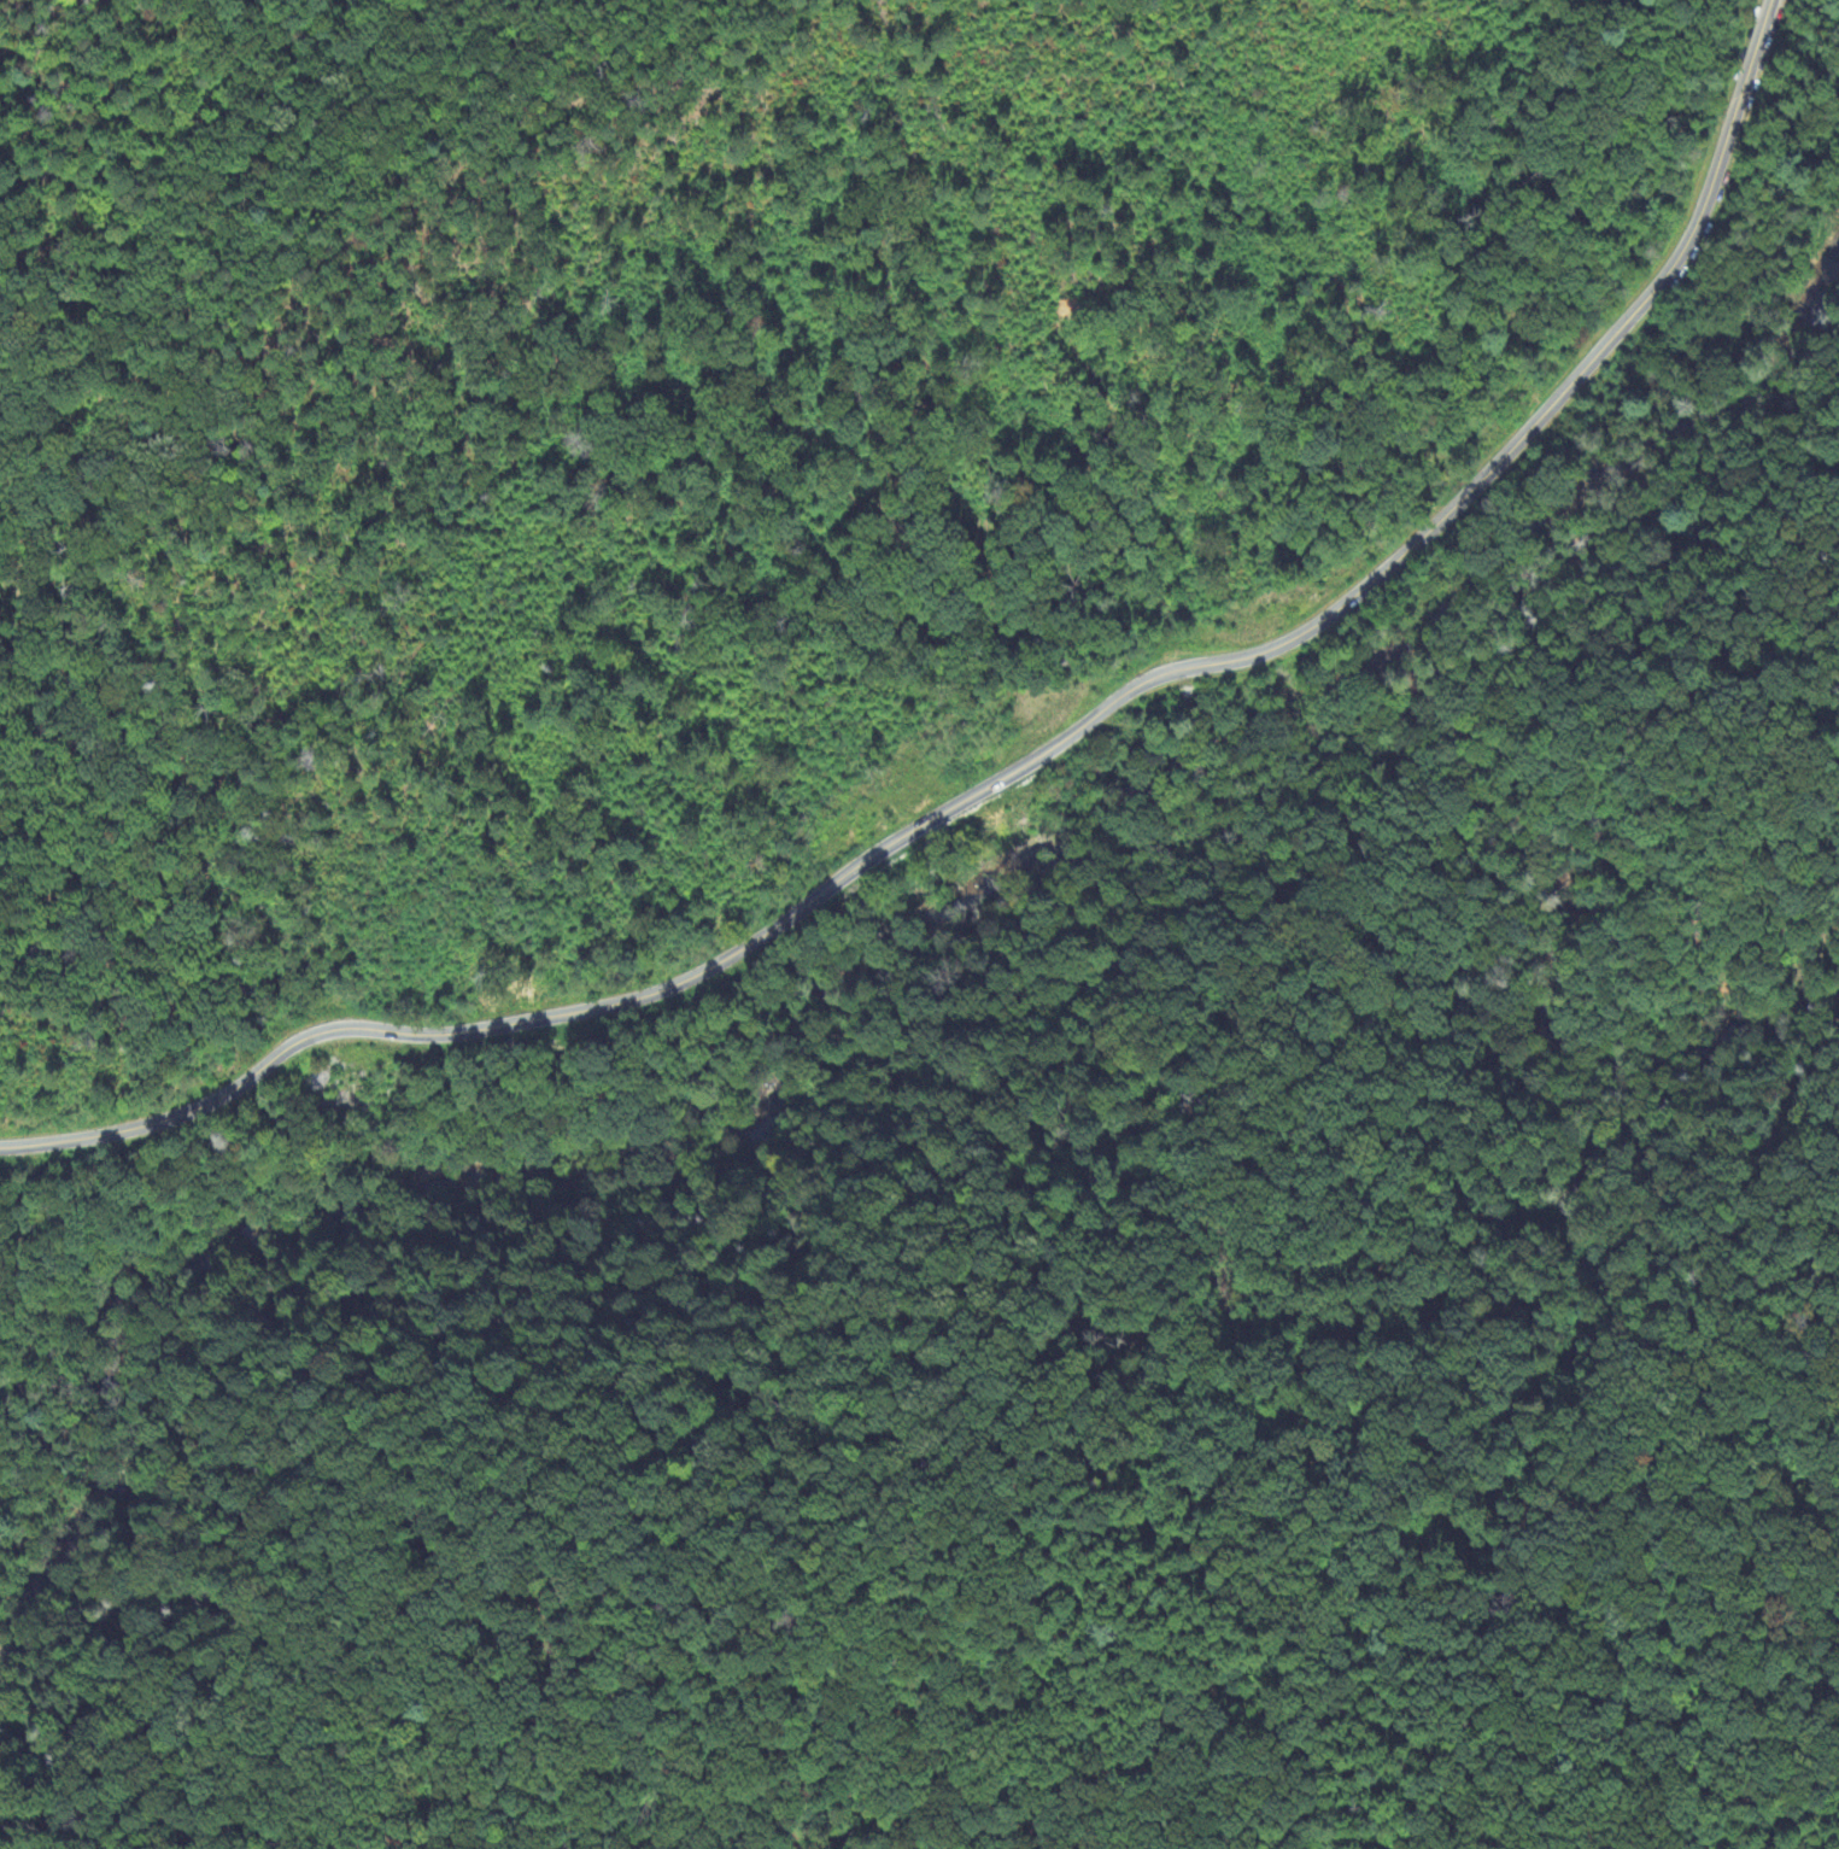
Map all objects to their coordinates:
road: (1025, 771)
road: (964, 929)

